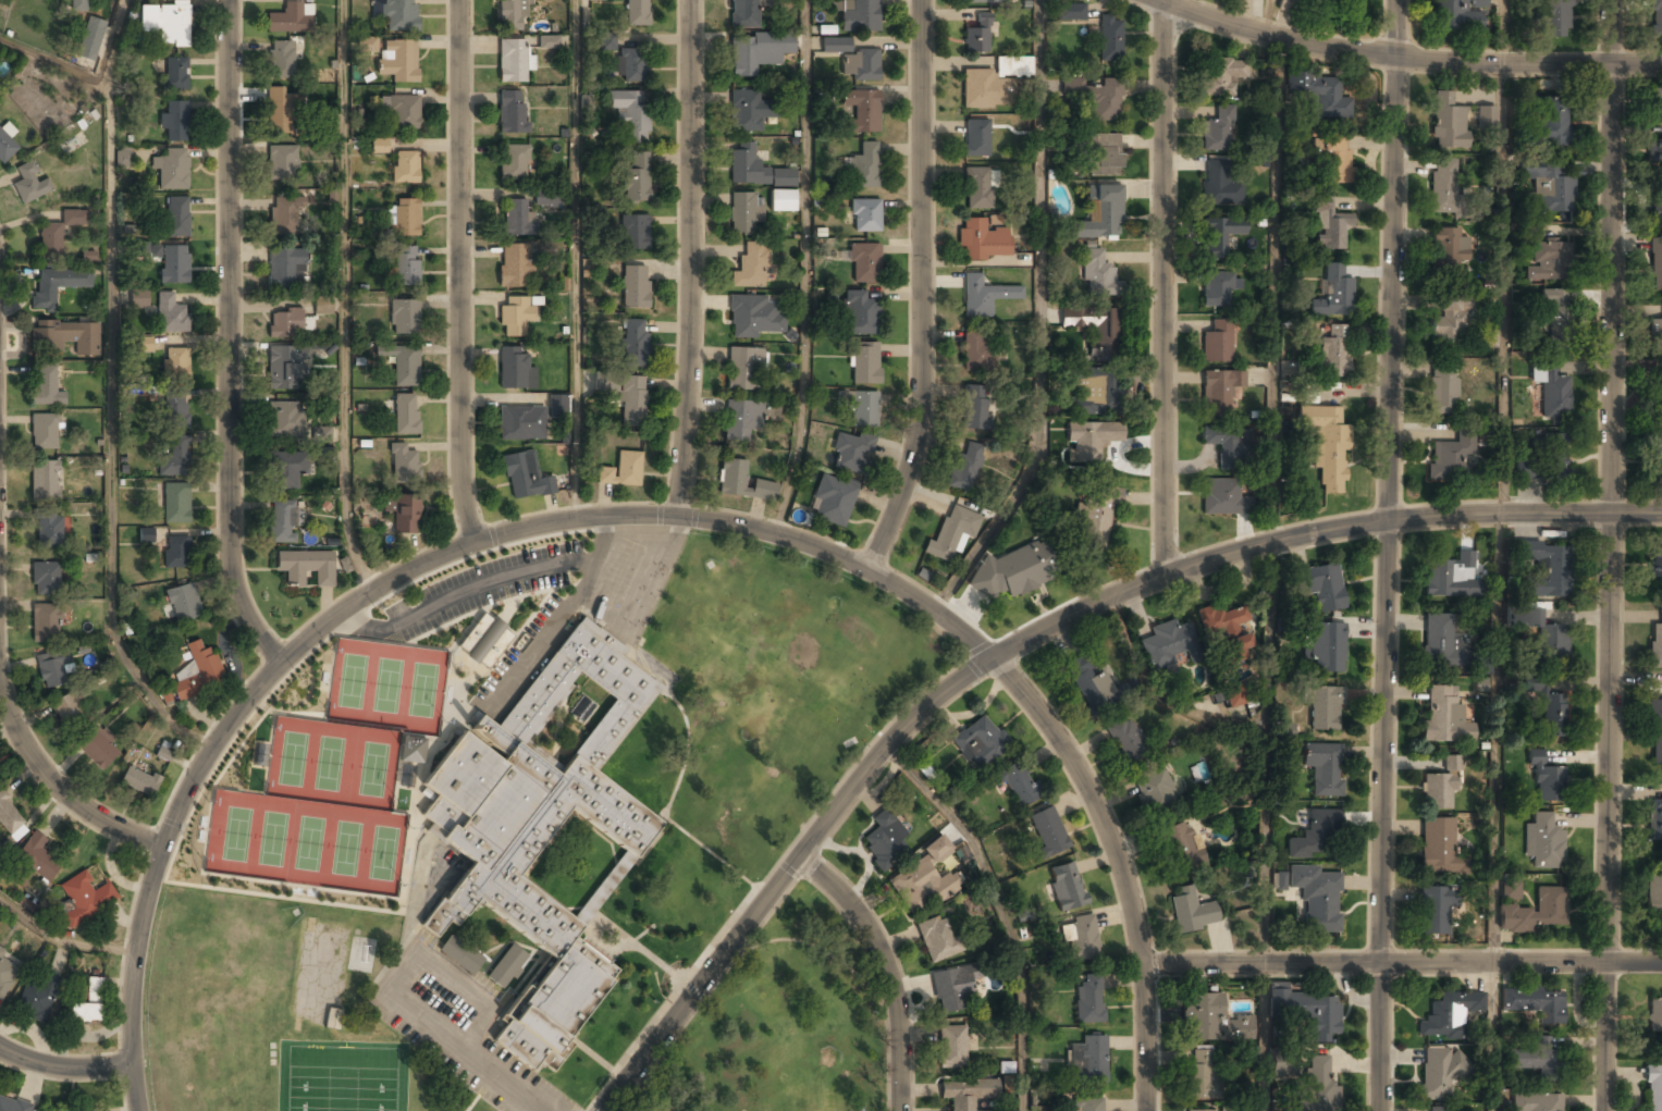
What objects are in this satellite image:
building: (593, 0)
building: (985, 1)
building: (78, 5)
building: (1290, 5)
building: (1335, 8)
building: (1071, 11)
building: (636, 13)
building: (395, 14)
building: (744, 14)
building: (512, 15)
building: (1458, 15)
building: (859, 16)
building: (1554, 16)
building: (1655, 17)
building: (290, 18)
building: (173, 26)
building: (977, 37)
building: (90, 38)
building: (1110, 40)
building: (549, 41)
building: (606, 41)
building: (367, 44)
building: (836, 45)
building: (758, 51)
road: (1407, 58)
building: (281, 60)
building: (398, 61)
building: (512, 62)
road: (57, 63)
building: (631, 65)
building: (859, 66)
building: (1013, 66)
building: (175, 74)
building: (1221, 76)
building: (981, 88)
building: (1321, 96)
building: (1105, 102)
building: (1657, 102)
building: (747, 111)
building: (861, 111)
building: (280, 112)
building: (401, 112)
building: (510, 113)
building: (630, 115)
building: (1486, 115)
building: (174, 122)
building: (1448, 123)
building: (1555, 126)
building: (1219, 131)
building: (976, 138)
building: (379, 146)
building: (5, 147)
building: (1654, 151)
building: (1104, 156)
building: (122, 159)
building: (1331, 159)
building: (282, 163)
building: (514, 163)
building: (405, 168)
building: (864, 168)
building: (754, 169)
building: (171, 170)
building: (637, 181)
building: (29, 184)
building: (1219, 185)
building: (1445, 186)
building: (1552, 188)
building: (977, 189)
building: (547, 197)
building: (783, 201)
building: (1657, 208)
road: (576, 210)
building: (744, 212)
building: (177, 217)
building: (285, 217)
building: (865, 217)
building: (404, 219)
building: (517, 219)
building: (1103, 219)
building: (1329, 224)
building: (633, 233)
building: (57, 235)
building: (1220, 236)
building: (982, 240)
building: (148, 250)
building: (1449, 251)
road: (689, 259)
building: (1549, 260)
building: (174, 264)
building: (864, 264)
building: (1657, 264)
building: (405, 267)
building: (514, 267)
building: (750, 267)
building: (286, 269)
road: (805, 270)
road: (1275, 270)
road: (461, 272)
building: (1096, 273)
road: (1166, 285)
building: (57, 286)
building: (635, 288)
building: (1218, 289)
road: (920, 291)
building: (1333, 293)
building: (984, 297)
building: (138, 298)
road: (343, 299)
building: (323, 305)
building: (171, 314)
building: (858, 314)
building: (516, 317)
building: (753, 317)
building: (1558, 317)
building: (404, 318)
building: (1451, 320)
road: (1042, 322)
building: (284, 323)
building: (1089, 328)
road: (242, 335)
building: (1655, 336)
building: (64, 337)
building: (1218, 342)
building: (633, 343)
building: (145, 344)
building: (977, 353)
building: (1329, 357)
building: (175, 363)
building: (403, 366)
building: (864, 366)
building: (286, 368)
building: (743, 368)
building: (515, 371)
building: (46, 387)
building: (1661, 387)
building: (1442, 390)
building: (1552, 390)
building: (1220, 392)
building: (1309, 393)
road: (112, 394)
building: (1089, 394)
building: (632, 402)
building: (557, 405)
building: (975, 407)
building: (175, 410)
building: (864, 410)
building: (406, 415)
building: (285, 419)
building: (740, 420)
building: (521, 423)
building: (44, 432)
building: (321, 434)
building: (1089, 441)
building: (1326, 445)
building: (1229, 446)
building: (850, 452)
building: (1450, 457)
building: (174, 458)
building: (1544, 459)
building: (1657, 460)
building: (403, 465)
building: (965, 466)
building: (286, 470)
building: (621, 471)
building: (525, 477)
building: (44, 482)
building: (742, 483)
building: (1223, 497)
building: (833, 499)
building: (176, 504)
building: (404, 514)
building: (1095, 516)
building: (282, 522)
building: (49, 531)
building: (951, 533)
building: (146, 534)
road: (1314, 534)
building: (176, 553)
road: (1388, 555)
road: (1498, 555)
road: (1608, 555)
building: (1657, 561)
building: (306, 567)
building: (1543, 568)
building: (1013, 570)
building: (1452, 577)
building: (46, 579)
road: (1, 583)
building: (1320, 588)
building: (183, 604)
road: (931, 610)
road: (337, 618)
building: (46, 621)
building: (1227, 630)
building: (484, 640)
building: (1550, 641)
building: (1444, 642)
building: (1655, 644)
building: (1164, 645)
building: (1325, 646)
building: (1482, 664)
building: (52, 669)
building: (197, 672)
park: (347, 681)
park: (385, 686)
building: (1091, 686)
park: (421, 691)
building: (1235, 695)
building: (1547, 706)
building: (1325, 708)
building: (70, 713)
building: (1444, 716)
building: (1655, 730)
building: (1128, 741)
building: (980, 743)
building: (413, 748)
building: (99, 749)
park: (288, 756)
park: (328, 762)
building: (1452, 763)
building: (1324, 766)
park: (370, 767)
building: (1547, 779)
building: (139, 782)
building: (1019, 786)
building: (1153, 791)
building: (1439, 793)
building: (9, 817)
building: (1654, 822)
road: (1266, 825)
park: (230, 831)
building: (539, 831)
building: (1048, 831)
building: (1315, 831)
park: (269, 837)
park: (306, 841)
building: (884, 841)
building: (1543, 842)
park: (343, 847)
building: (1179, 848)
building: (1438, 848)
park: (380, 852)
building: (34, 862)
road: (1119, 866)
road: (784, 873)
building: (926, 876)
building: (1278, 880)
building: (1067, 886)
building: (1510, 890)
building: (1653, 896)
building: (1317, 898)
building: (84, 899)
road: (1000, 909)
building: (1192, 911)
building: (1435, 911)
building: (1535, 911)
building: (1080, 938)
road: (62, 939)
building: (938, 940)
building: (460, 954)
road: (1402, 963)
building: (507, 967)
road: (886, 967)
building: (8, 972)
building: (950, 990)
building: (1089, 1000)
building: (34, 1001)
building: (88, 1004)
building: (1535, 1004)
building: (1306, 1010)
building: (1449, 1015)
building: (1654, 1015)
building: (332, 1020)
building: (1211, 1021)
park: (784, 1026)
building: (951, 1048)
building: (1531, 1058)
building: (1086, 1061)
building: (1281, 1061)
road: (63, 1066)
building: (1440, 1073)
building: (1201, 1074)
park: (338, 1075)
building: (1319, 1086)
building: (1653, 1088)
building: (967, 1094)
building: (1537, 1103)
building: (1088, 1104)
building: (12, 1106)
building: (91, 1110)
building: (1199, 1110)
building: (1441, 1110)

